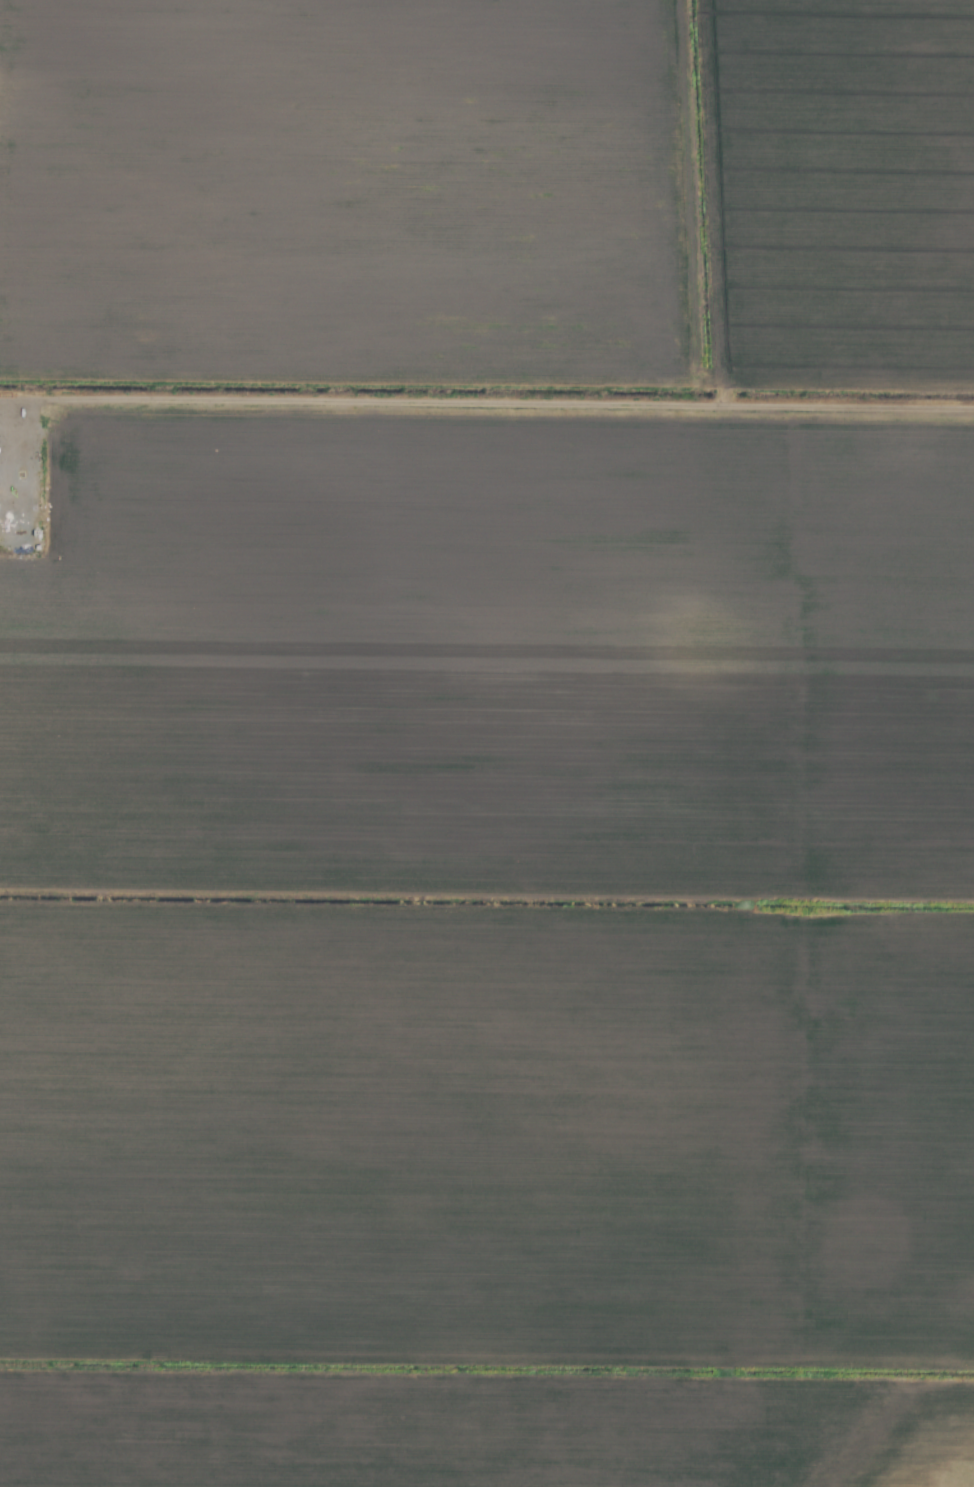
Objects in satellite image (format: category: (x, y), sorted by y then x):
crop: (487, 743)

